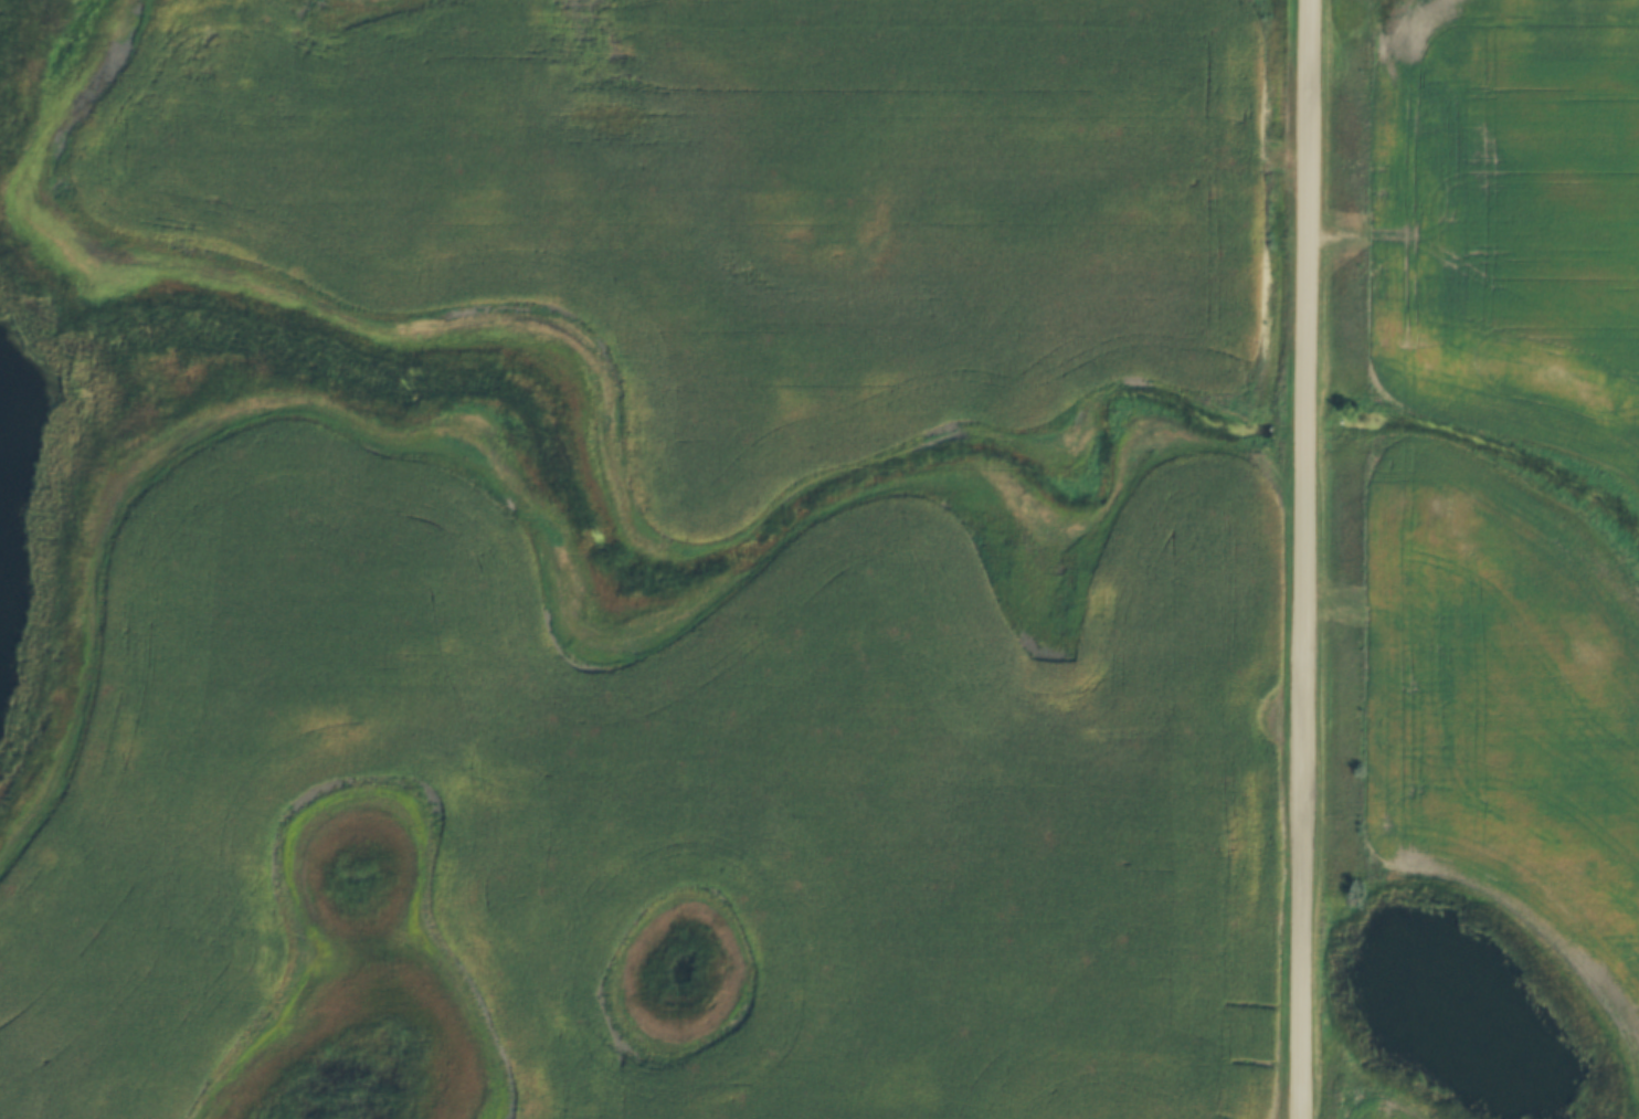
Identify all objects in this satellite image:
road: (1313, 559)

